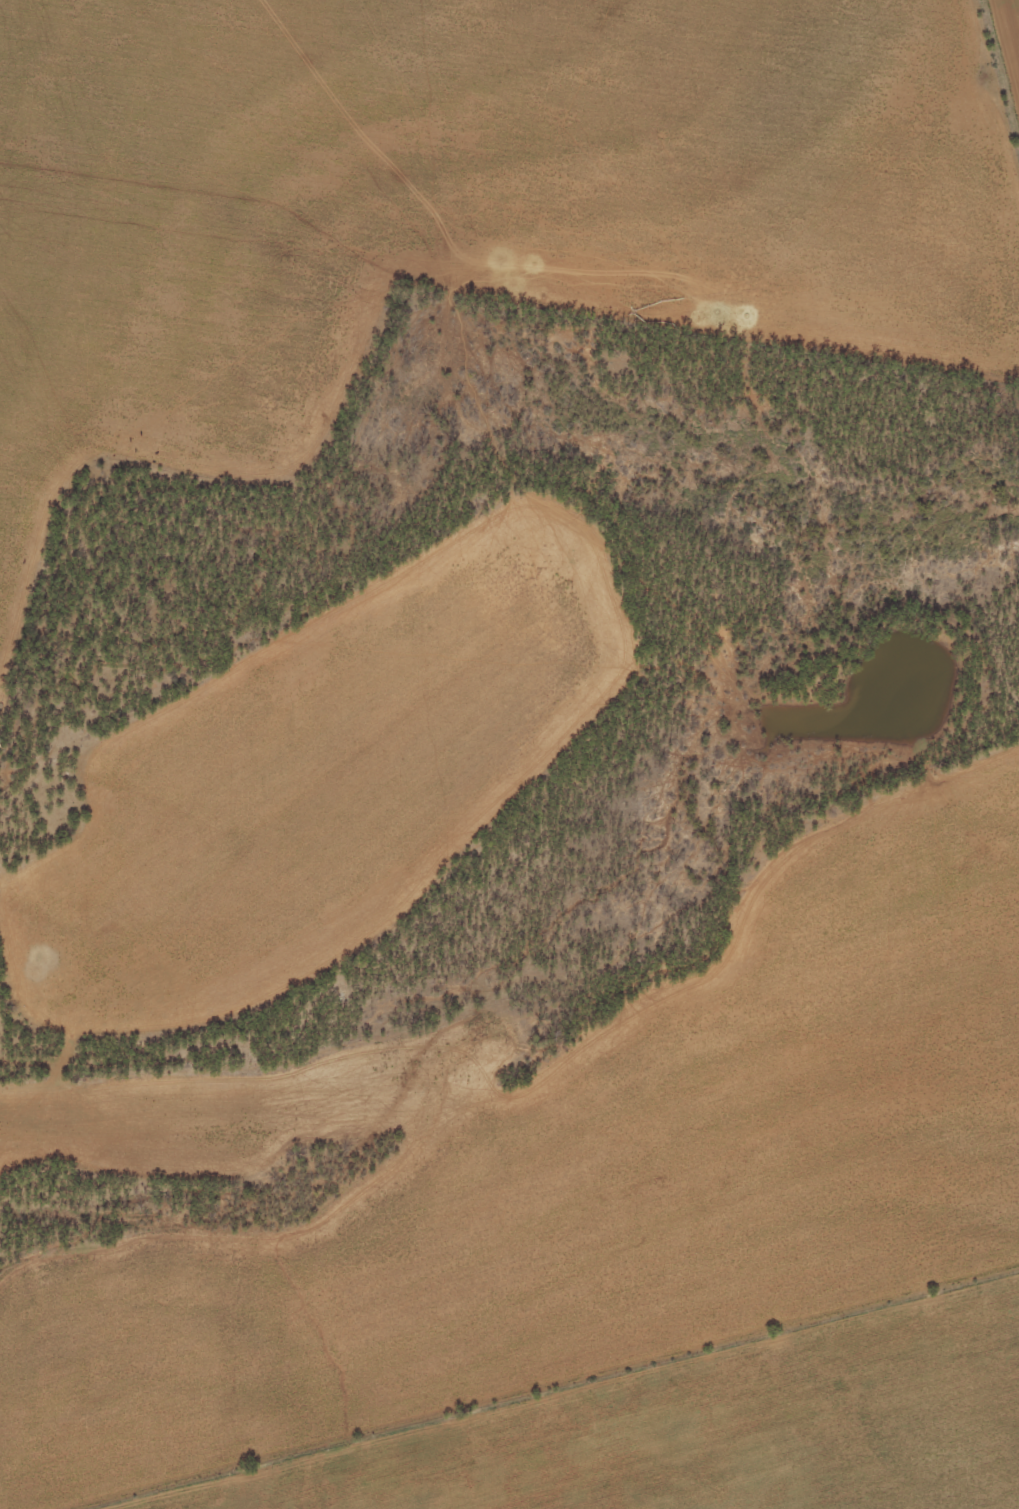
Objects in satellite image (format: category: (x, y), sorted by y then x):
road: (49, 1077)

